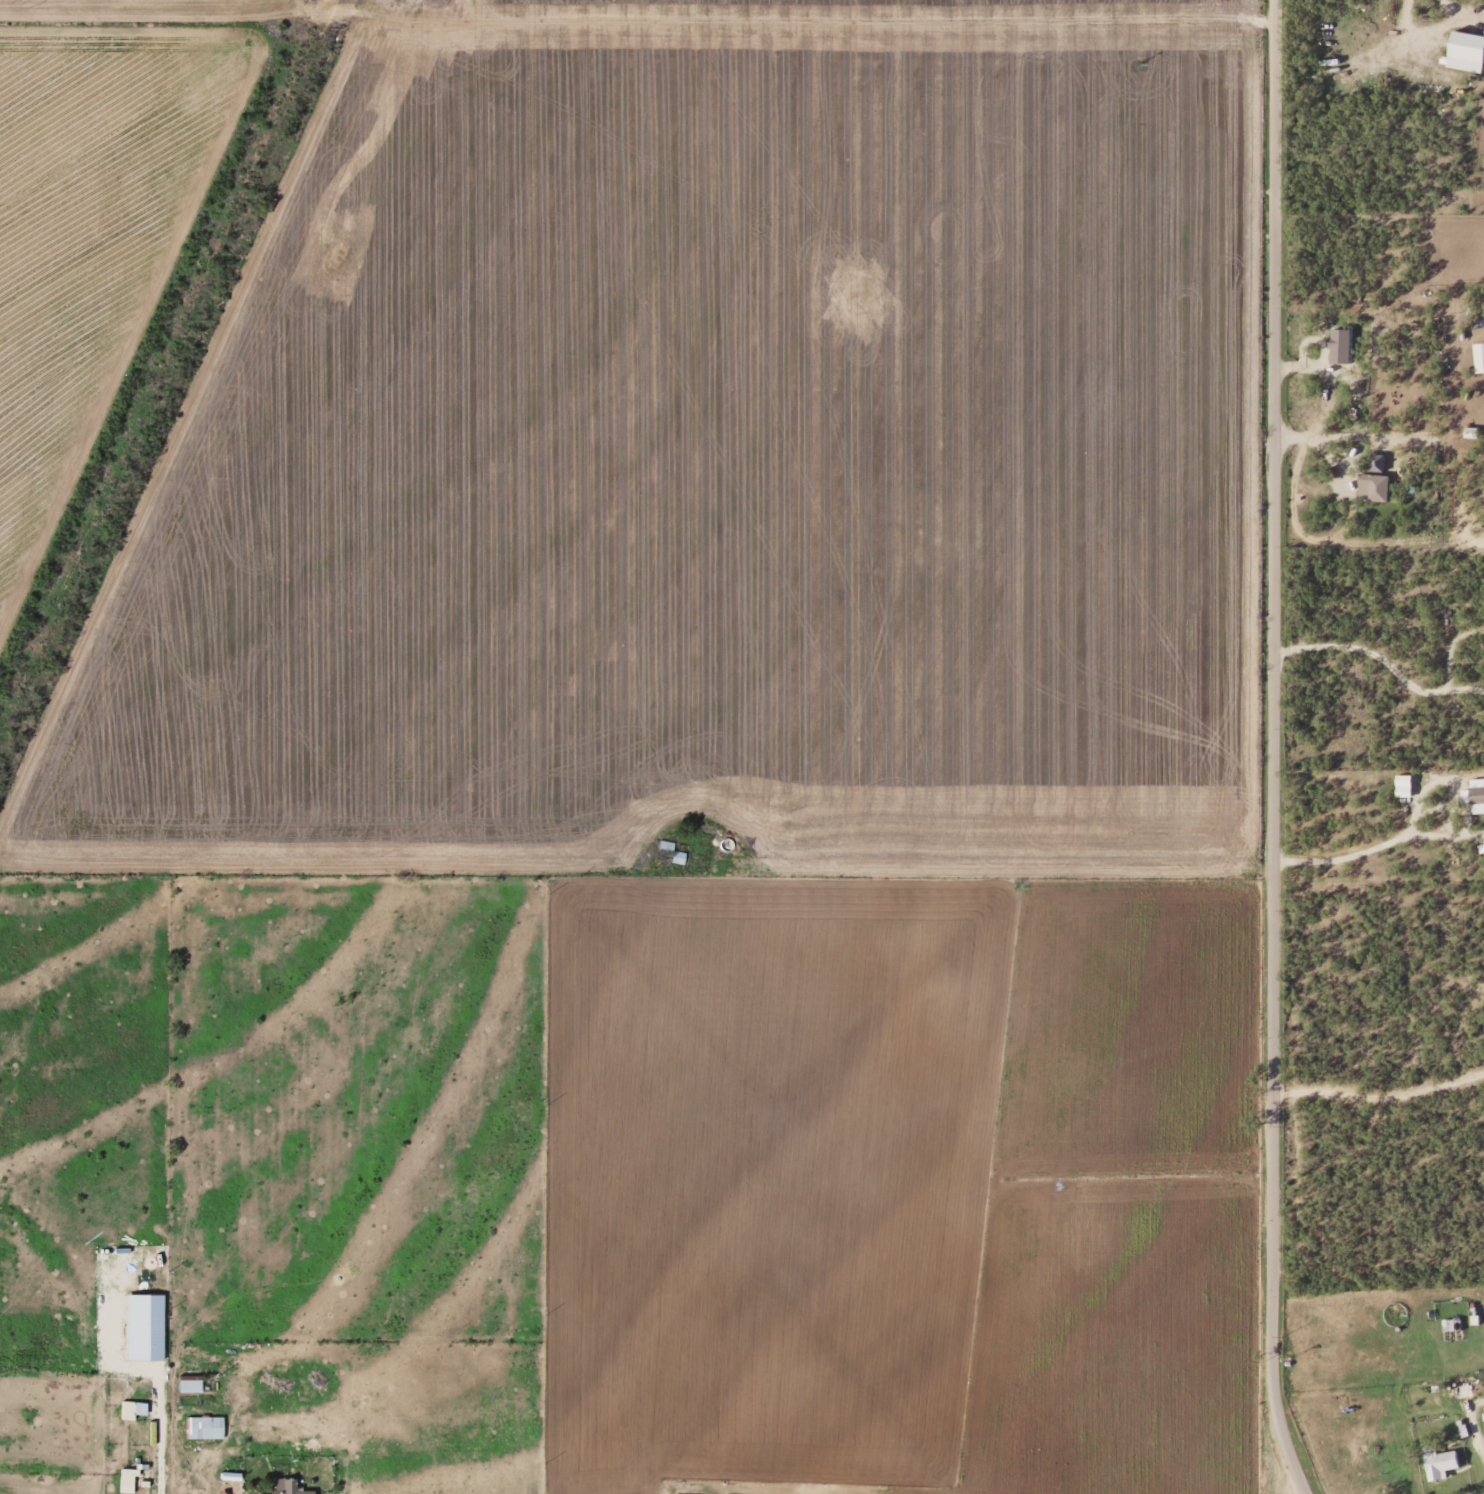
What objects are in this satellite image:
building: (1468, 51)
building: (1342, 345)
building: (1376, 463)
building: (1374, 489)
road: (1264, 750)
building: (1405, 785)
building: (1475, 795)
building: (666, 845)
building: (1482, 848)
building: (677, 857)
building: (1450, 1326)
building: (144, 1327)
building: (184, 1386)
building: (1460, 1391)
building: (122, 1410)
building: (200, 1428)
building: (1438, 1465)
building: (123, 1481)
building: (282, 1487)

